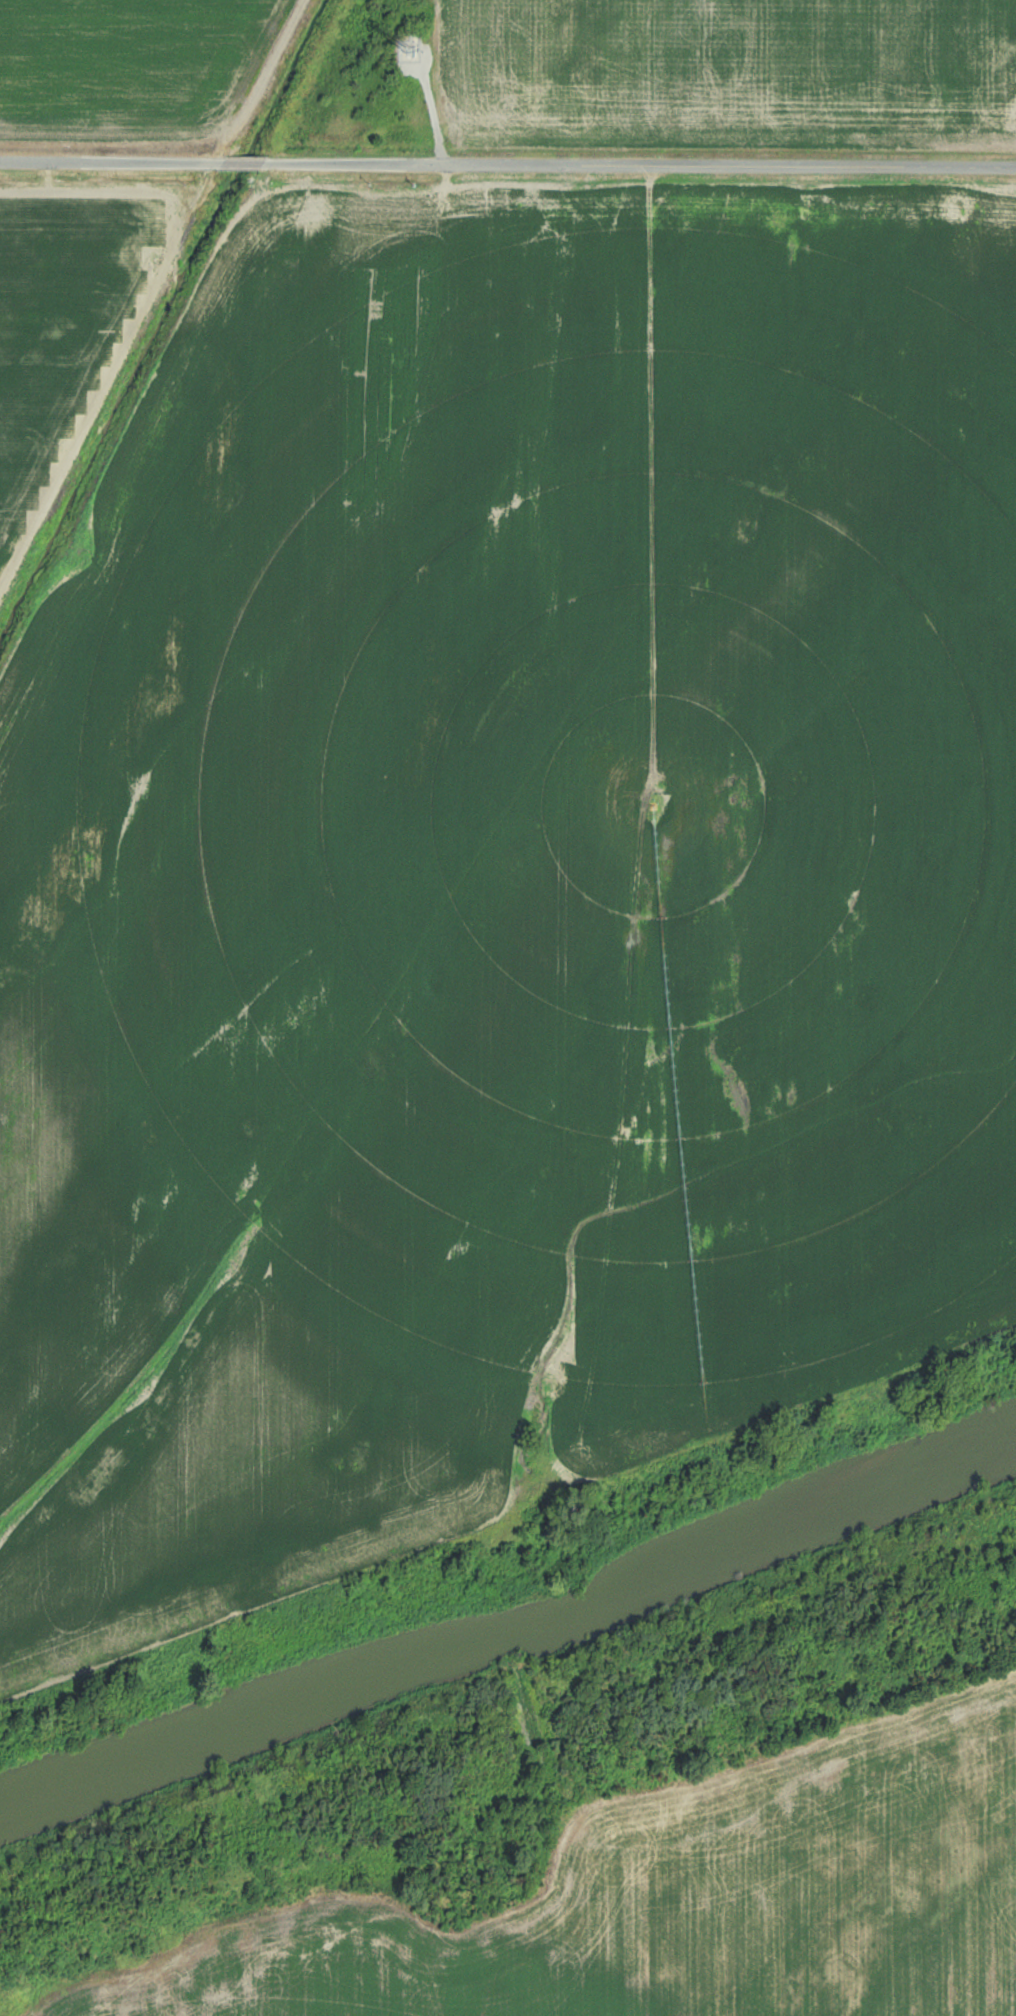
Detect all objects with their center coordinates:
road: (507, 165)

